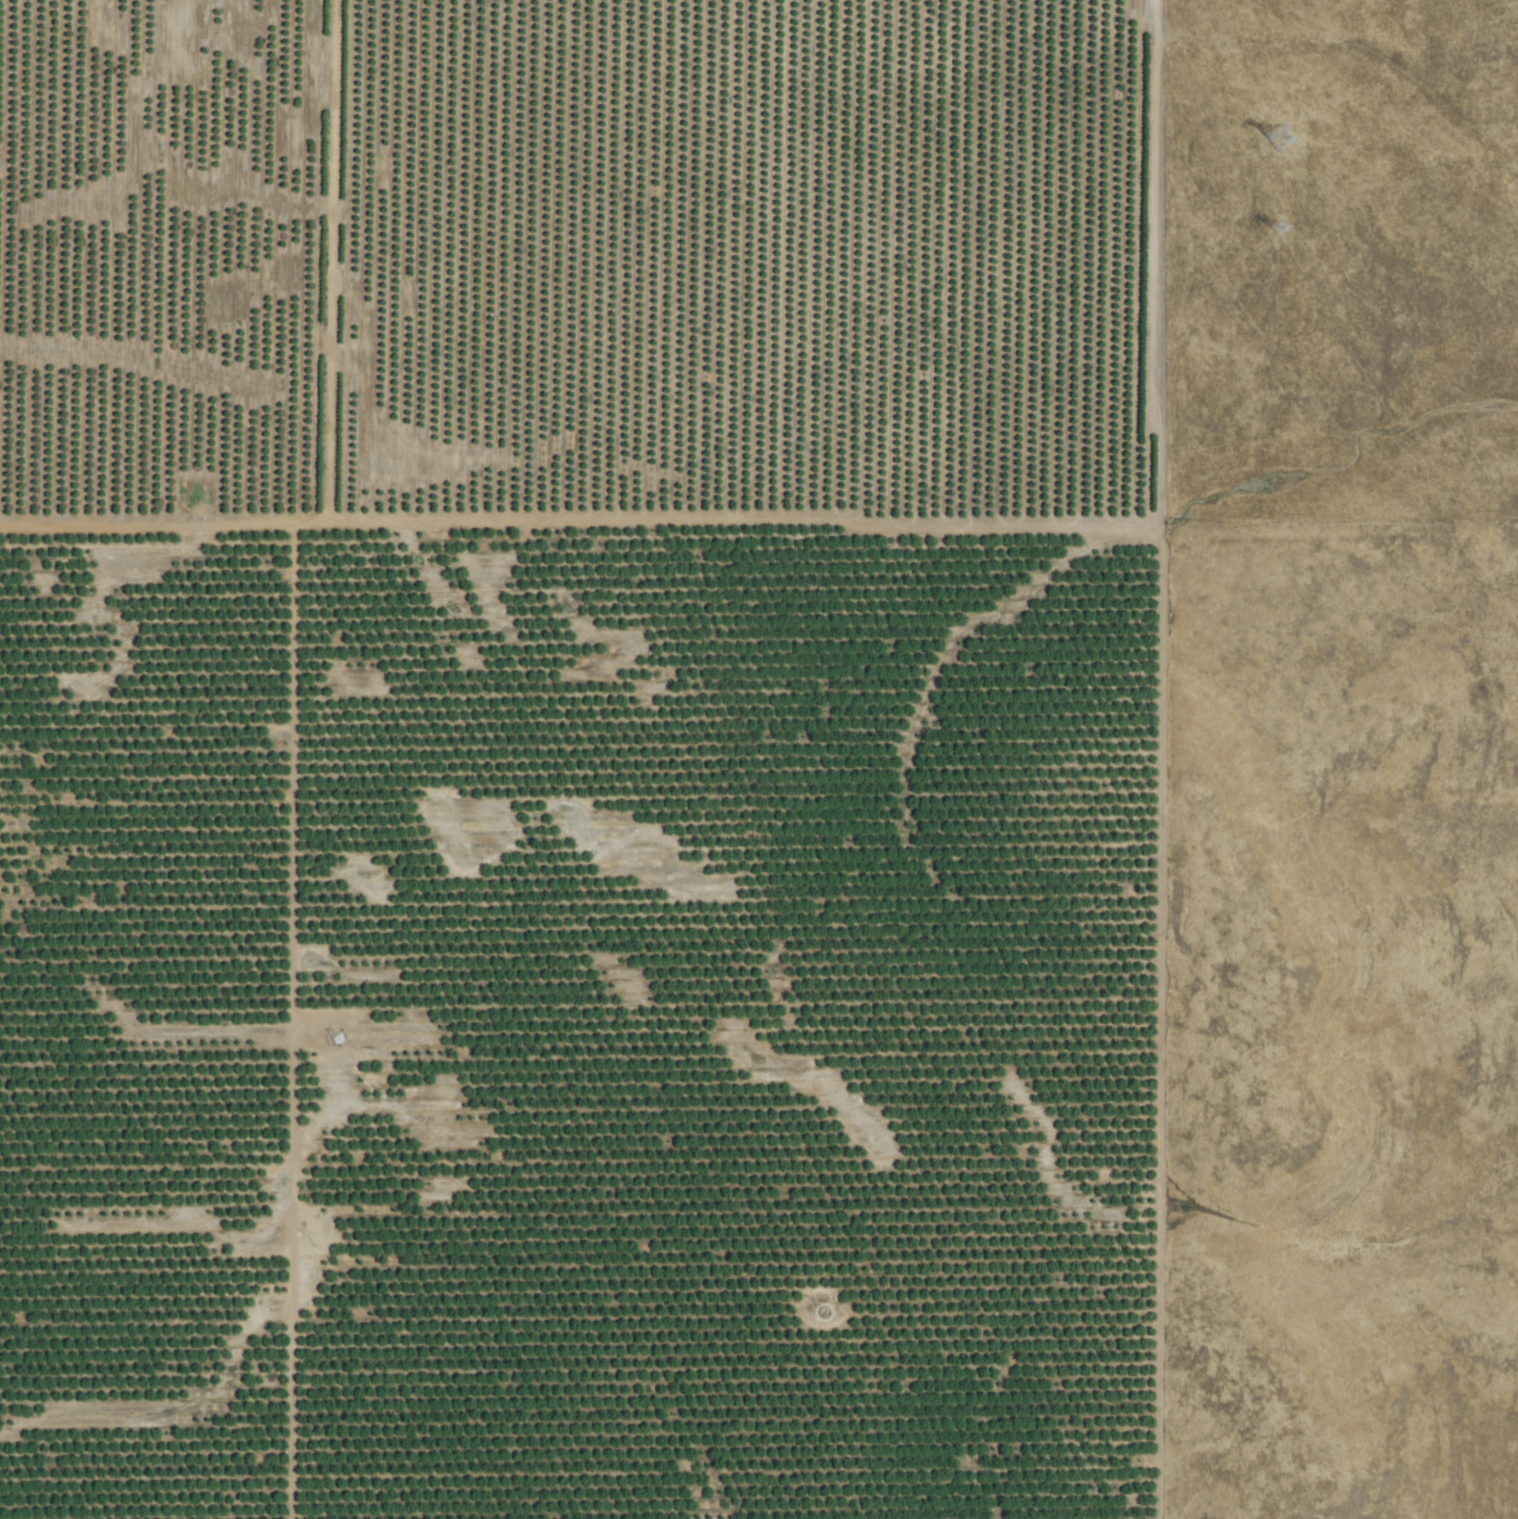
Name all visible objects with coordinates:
power tower: (1279, 140)
power tower: (1276, 227)

